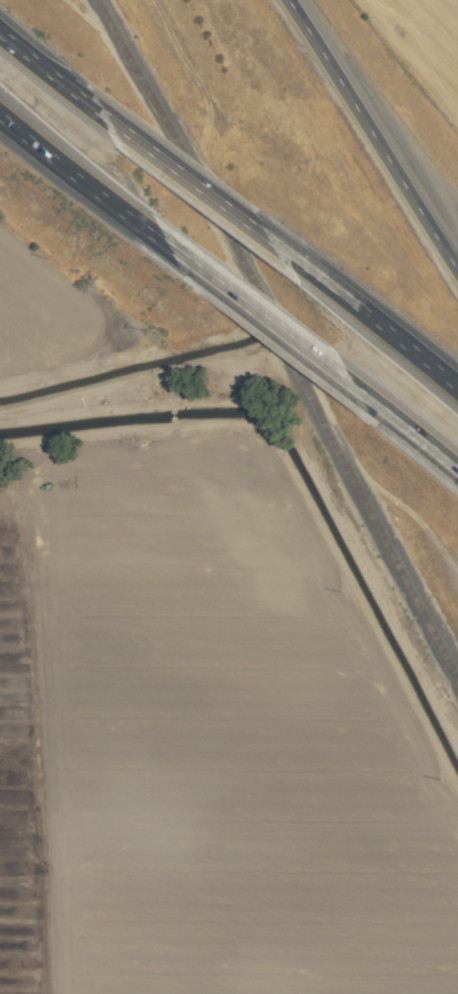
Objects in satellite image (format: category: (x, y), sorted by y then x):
airport: (420, 49)
road: (51, 70)
road: (376, 108)
road: (194, 178)
road: (96, 198)
road: (371, 314)
road: (273, 332)
railway: (277, 340)
road: (405, 434)

